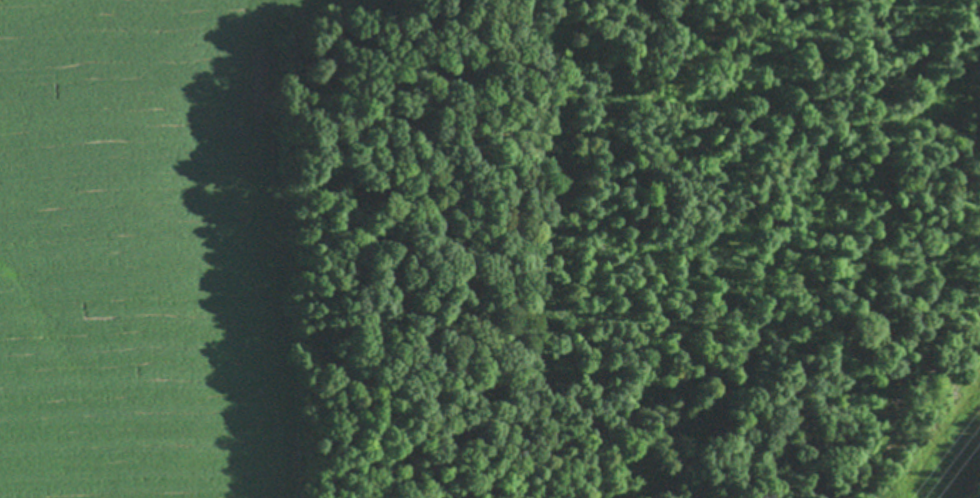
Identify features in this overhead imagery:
power tower: (928, 471)

